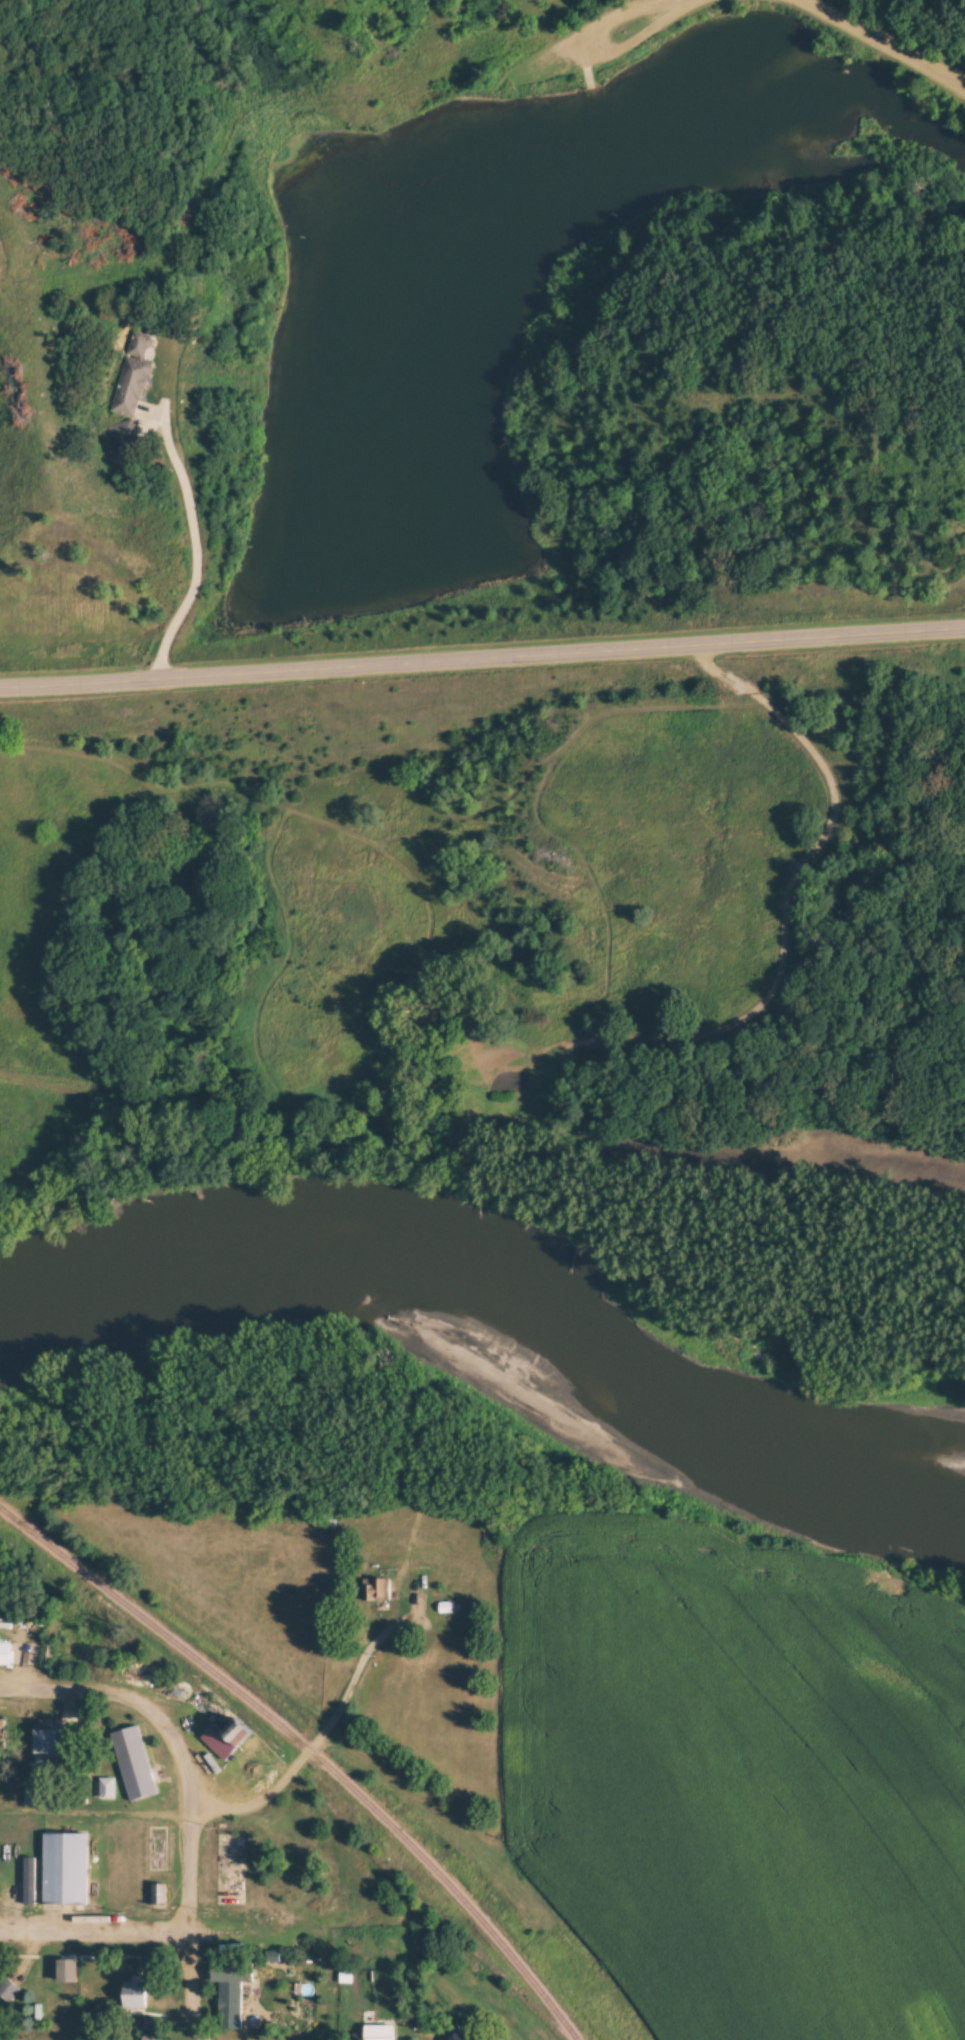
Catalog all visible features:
road: (888, 38)
road: (605, 47)
building: (131, 375)
building: (123, 438)
road: (192, 554)
road: (482, 664)
river: (260, 1242)
river: (714, 1461)
building: (376, 1589)
building: (5, 1654)
road: (66, 1688)
road: (322, 1731)
building: (3, 1734)
building: (228, 1738)
building: (54, 1744)
railway: (310, 1750)
building: (134, 1763)
building: (107, 1788)
road: (188, 1858)
building: (66, 1865)
building: (159, 1895)
railway: (439, 1919)
road: (93, 1930)
building: (8, 1990)
building: (232, 1991)
building: (136, 1992)
building: (380, 2032)
building: (455, 2034)

